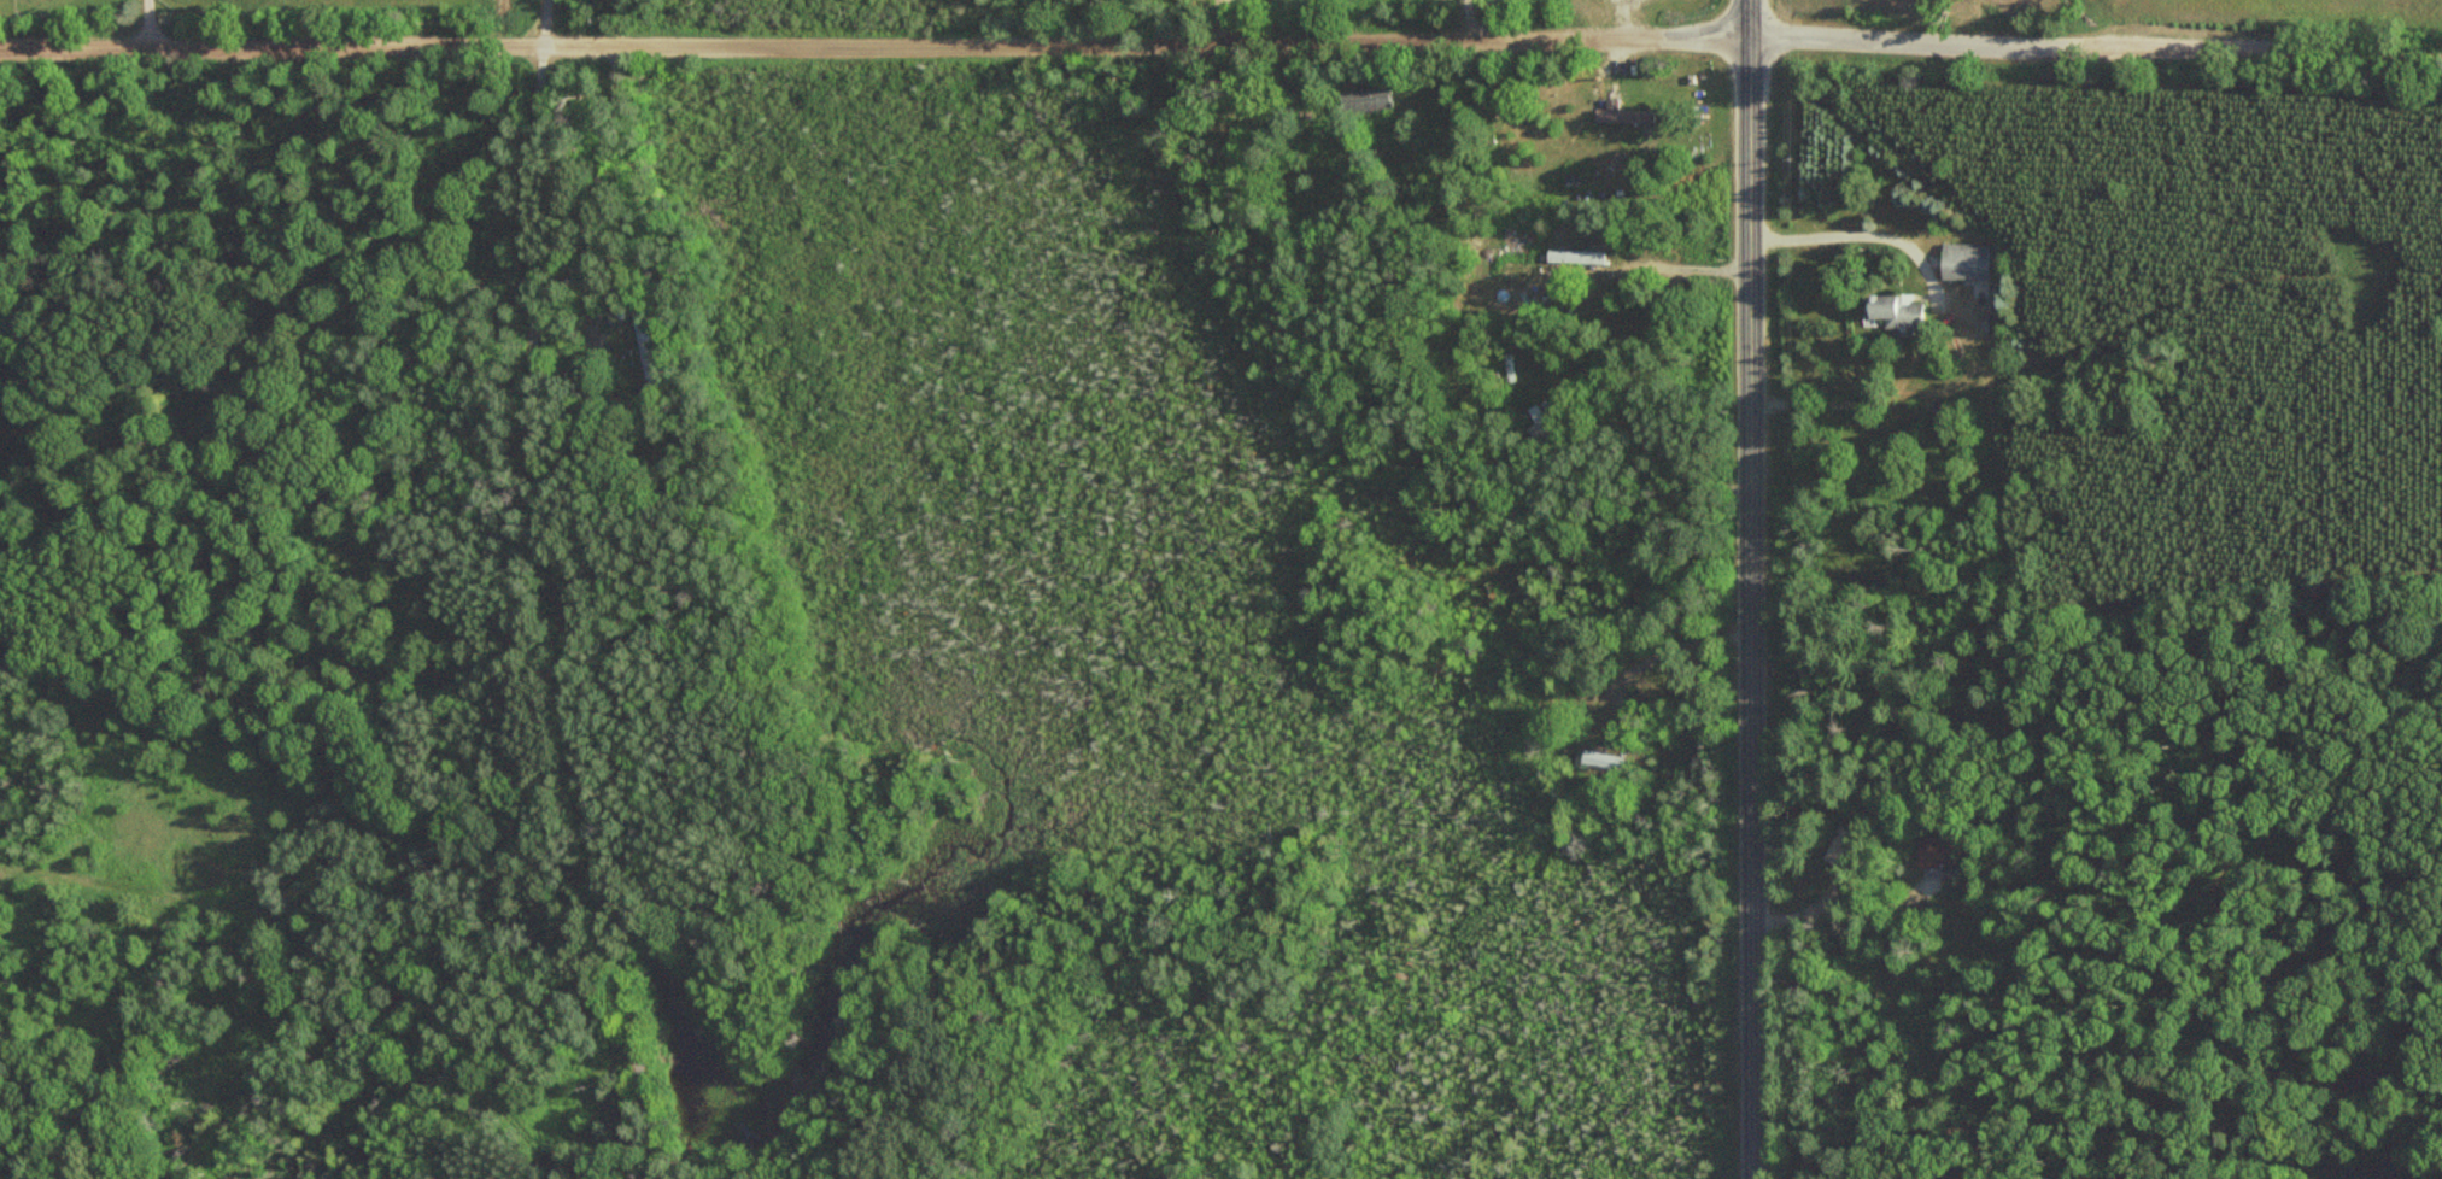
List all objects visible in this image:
road: (1749, 17)
road: (152, 23)
road: (1866, 39)
road: (827, 45)
road: (2259, 48)
building: (1364, 99)
building: (1622, 116)
building: (1966, 260)
building: (1896, 311)
building: (652, 348)
building: (1541, 421)
road: (560, 592)
road: (1755, 605)
road: (1659, 655)
building: (1640, 700)
building: (1606, 761)
building: (1937, 850)

